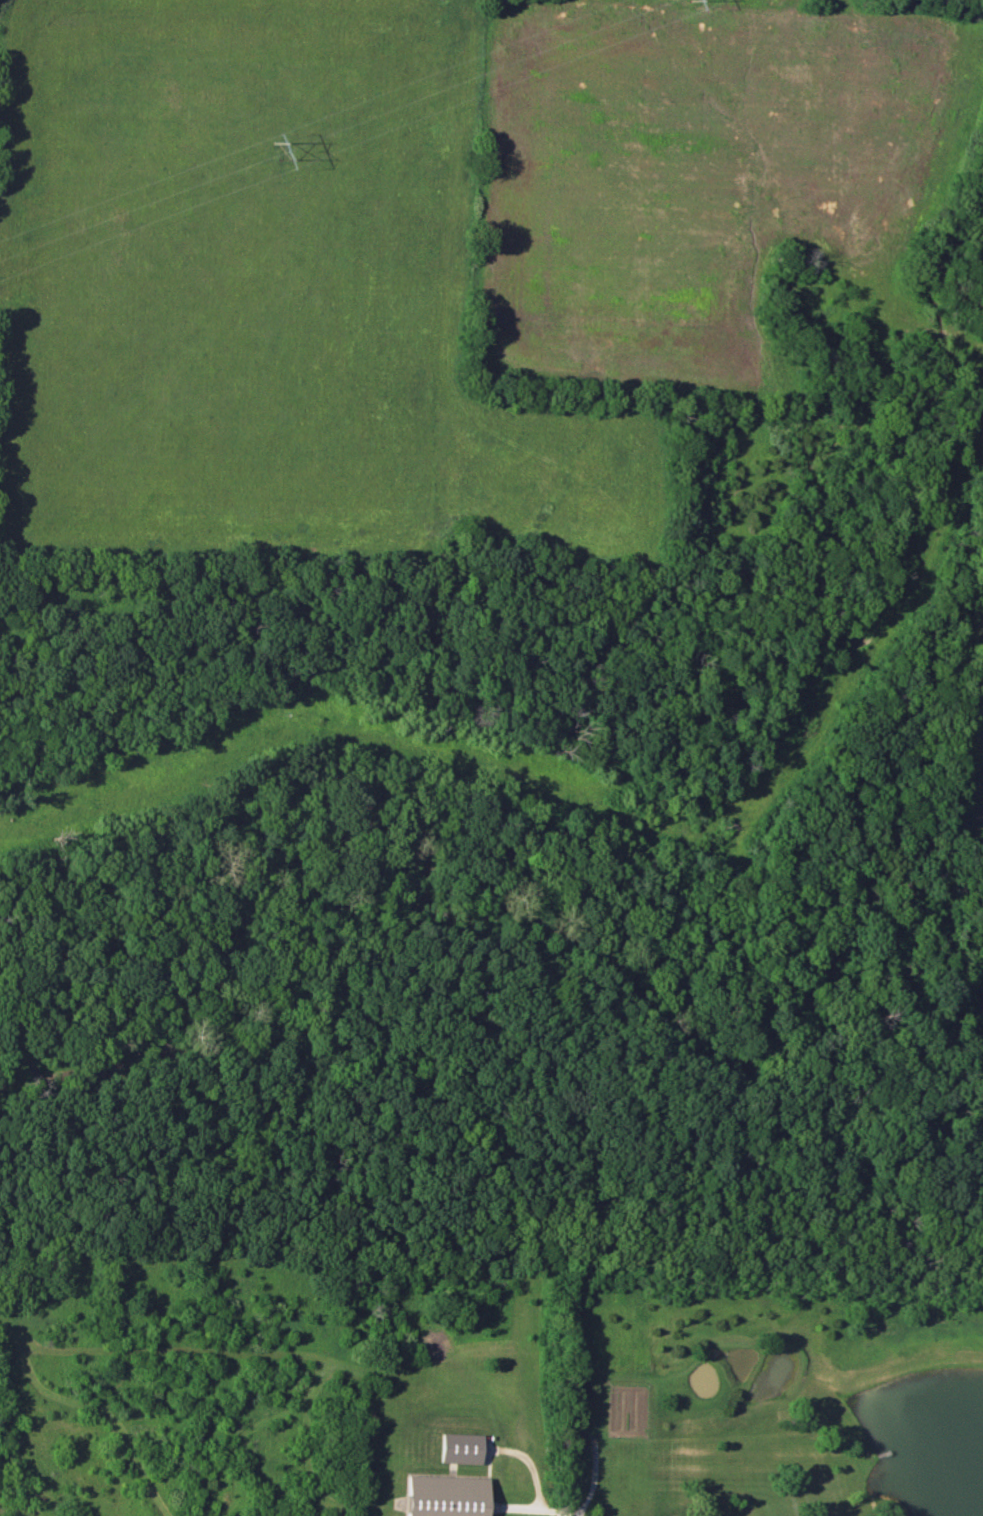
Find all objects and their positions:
power tower: (278, 146)
building: (460, 1448)
building: (447, 1496)

